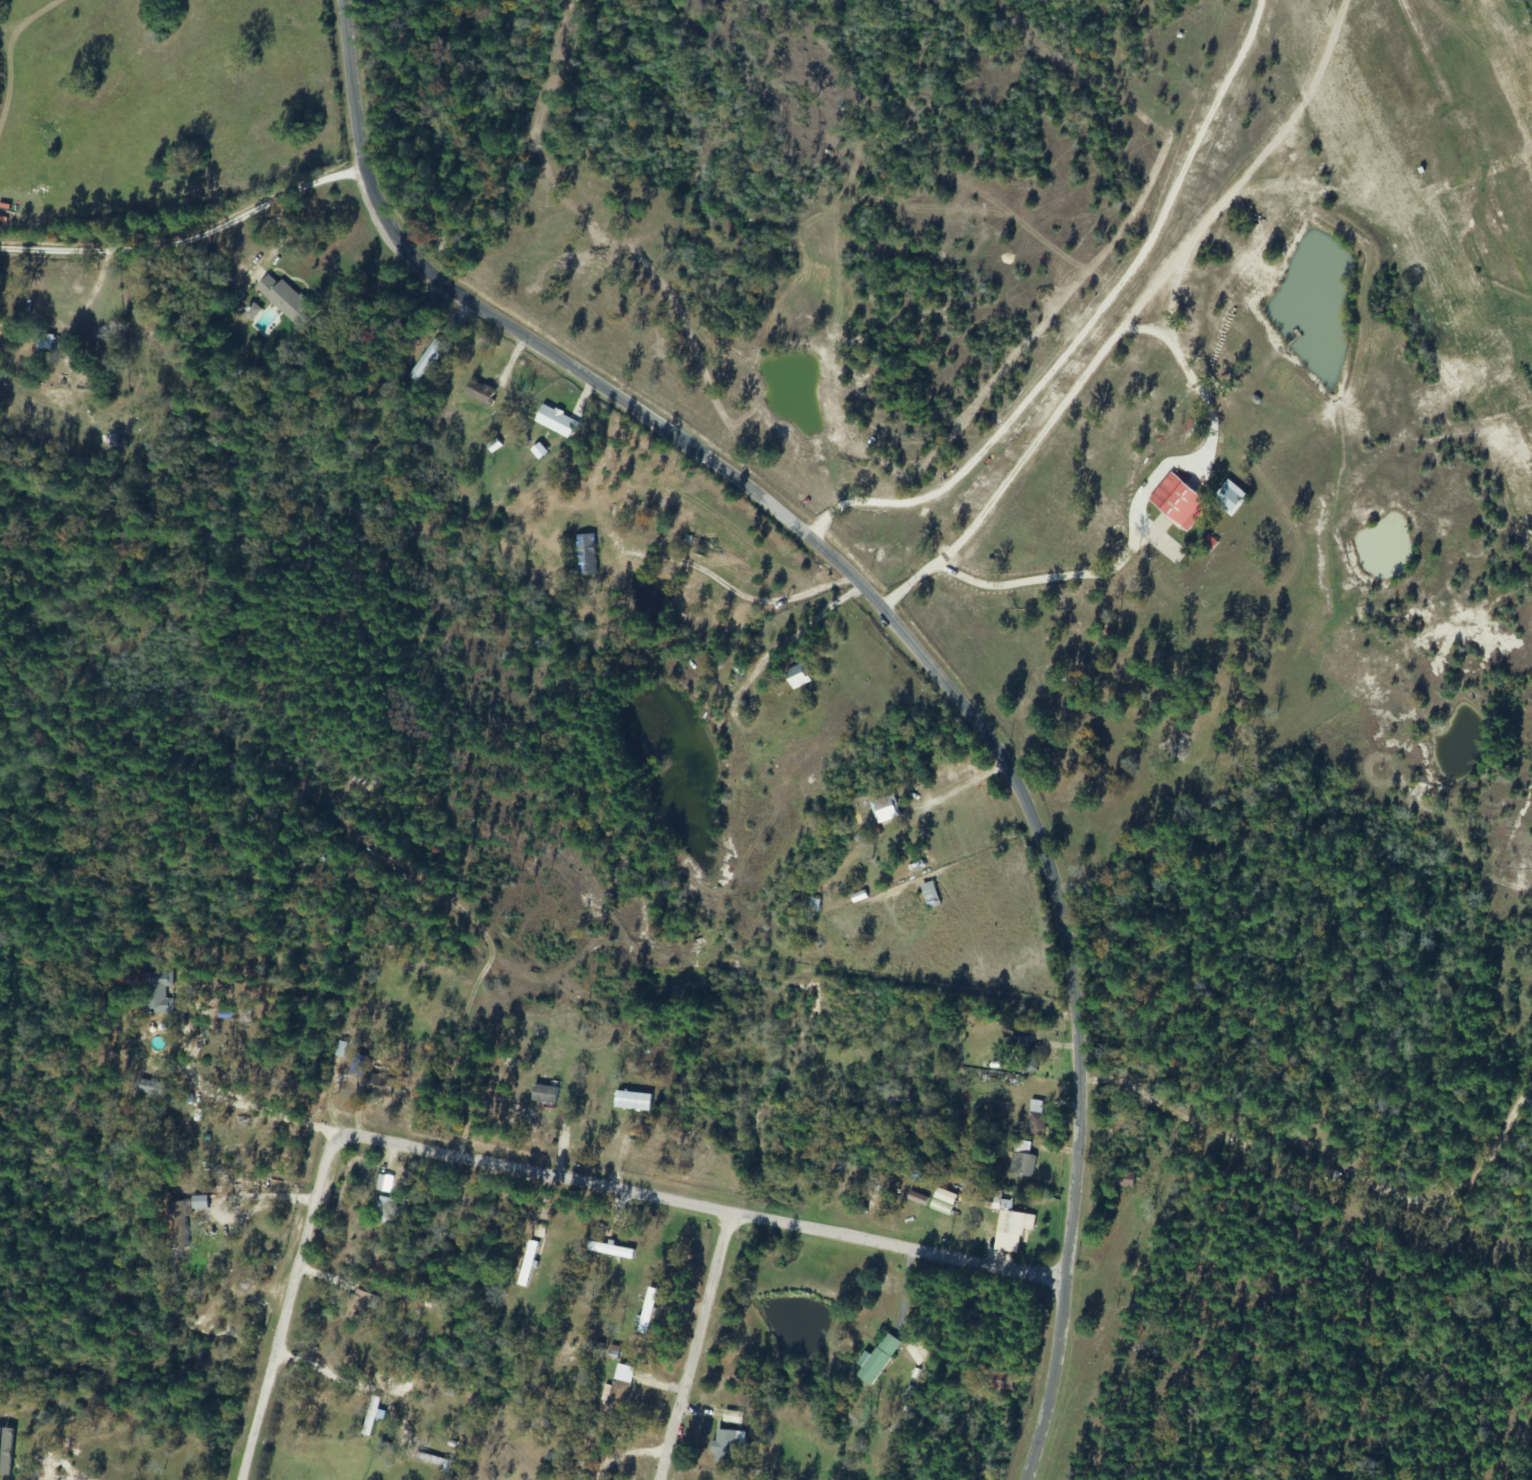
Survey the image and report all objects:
road: (185, 239)
building: (286, 300)
building: (44, 343)
building: (425, 360)
building: (481, 393)
building: (550, 420)
building: (1178, 502)
building: (696, 547)
building: (586, 554)
road: (901, 637)
building: (797, 675)
building: (885, 809)
building: (929, 894)
building: (814, 907)
building: (156, 992)
building: (1023, 1055)
building: (379, 1085)
building: (143, 1086)
building: (544, 1094)
building: (897, 1099)
building: (1035, 1118)
building: (190, 1127)
building: (1021, 1160)
road: (494, 1165)
building: (383, 1183)
building: (943, 1202)
building: (384, 1210)
building: (179, 1224)
building: (1007, 1224)
building: (538, 1231)
road: (902, 1249)
building: (609, 1250)
building: (527, 1264)
building: (358, 1304)
building: (646, 1310)
building: (918, 1352)
building: (876, 1359)
building: (617, 1394)
building: (370, 1415)
building: (731, 1416)
building: (722, 1445)
building: (560, 1477)

